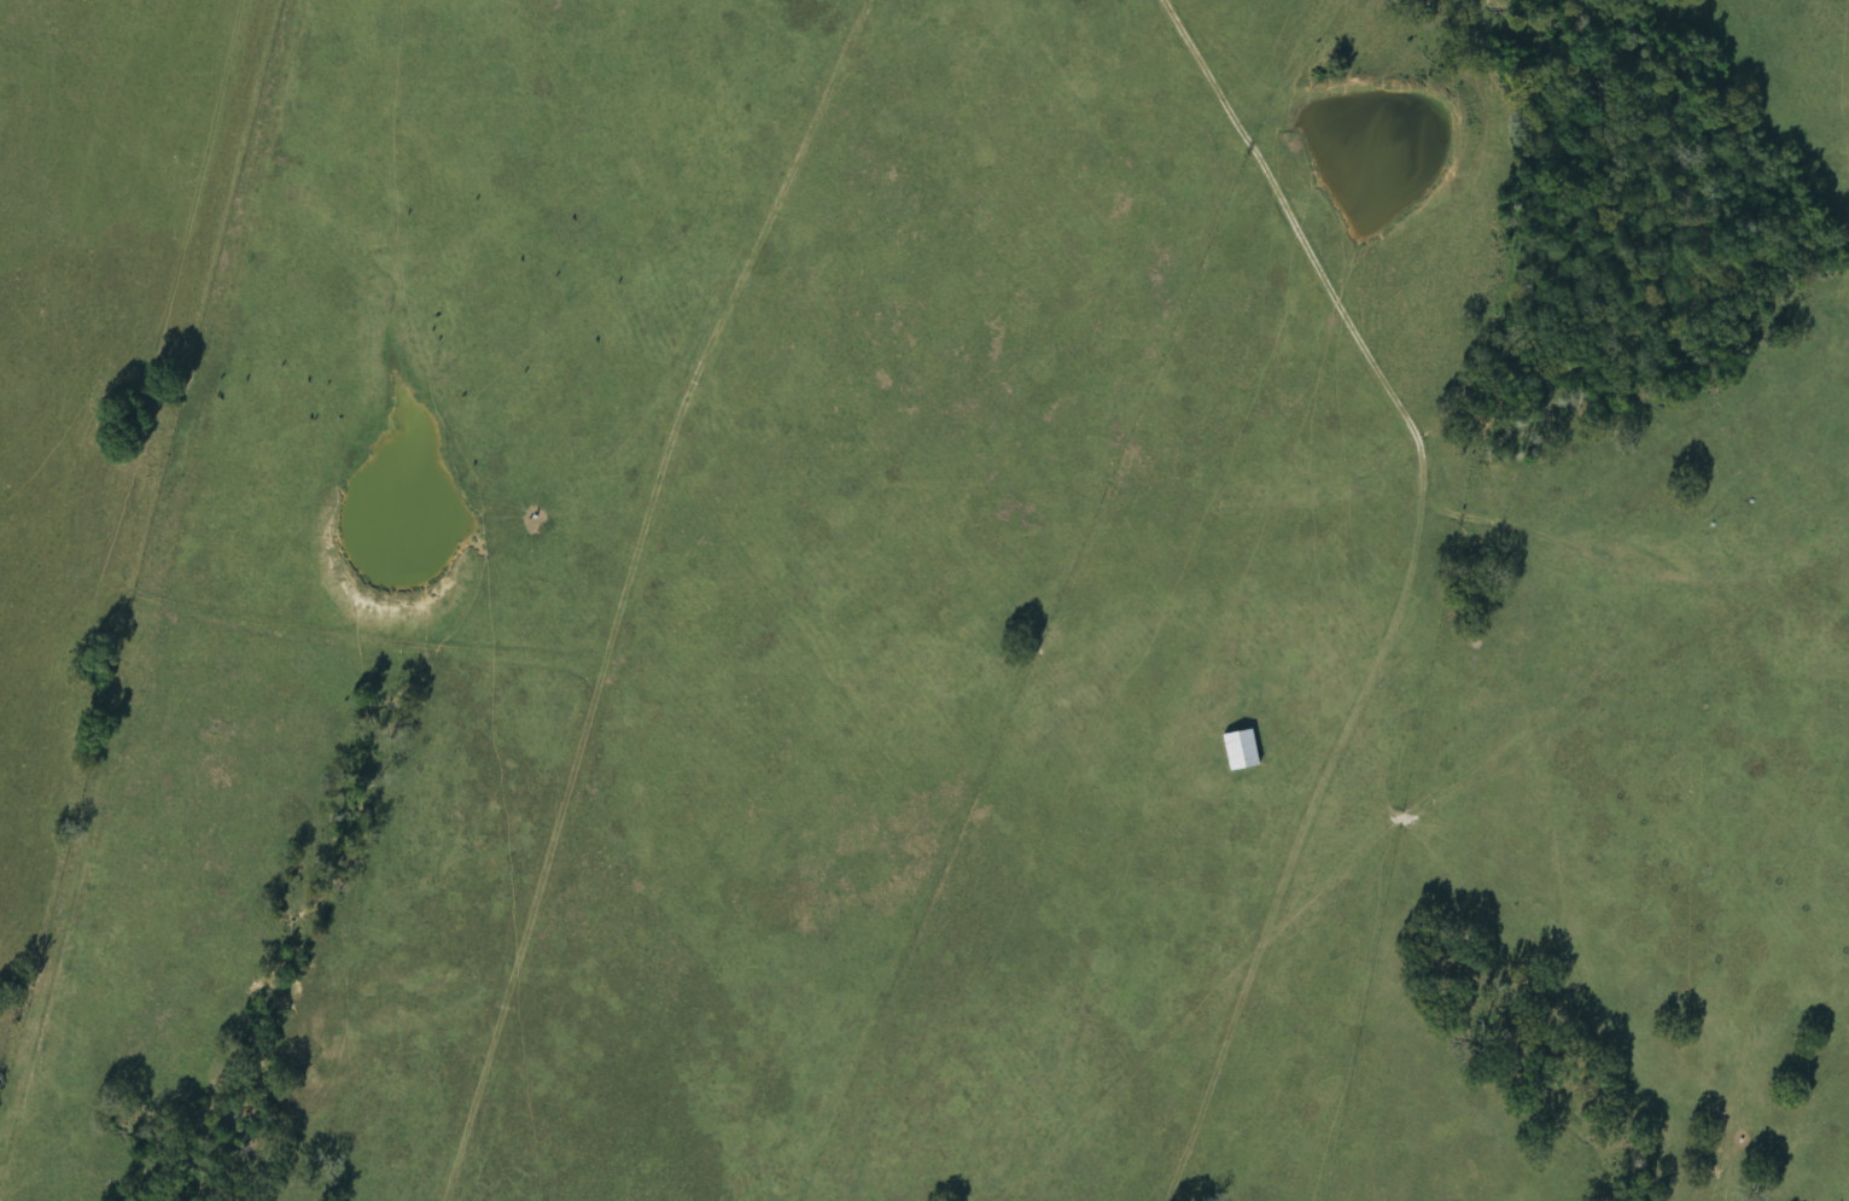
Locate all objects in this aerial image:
dam: (390, 595)
building: (1238, 750)

